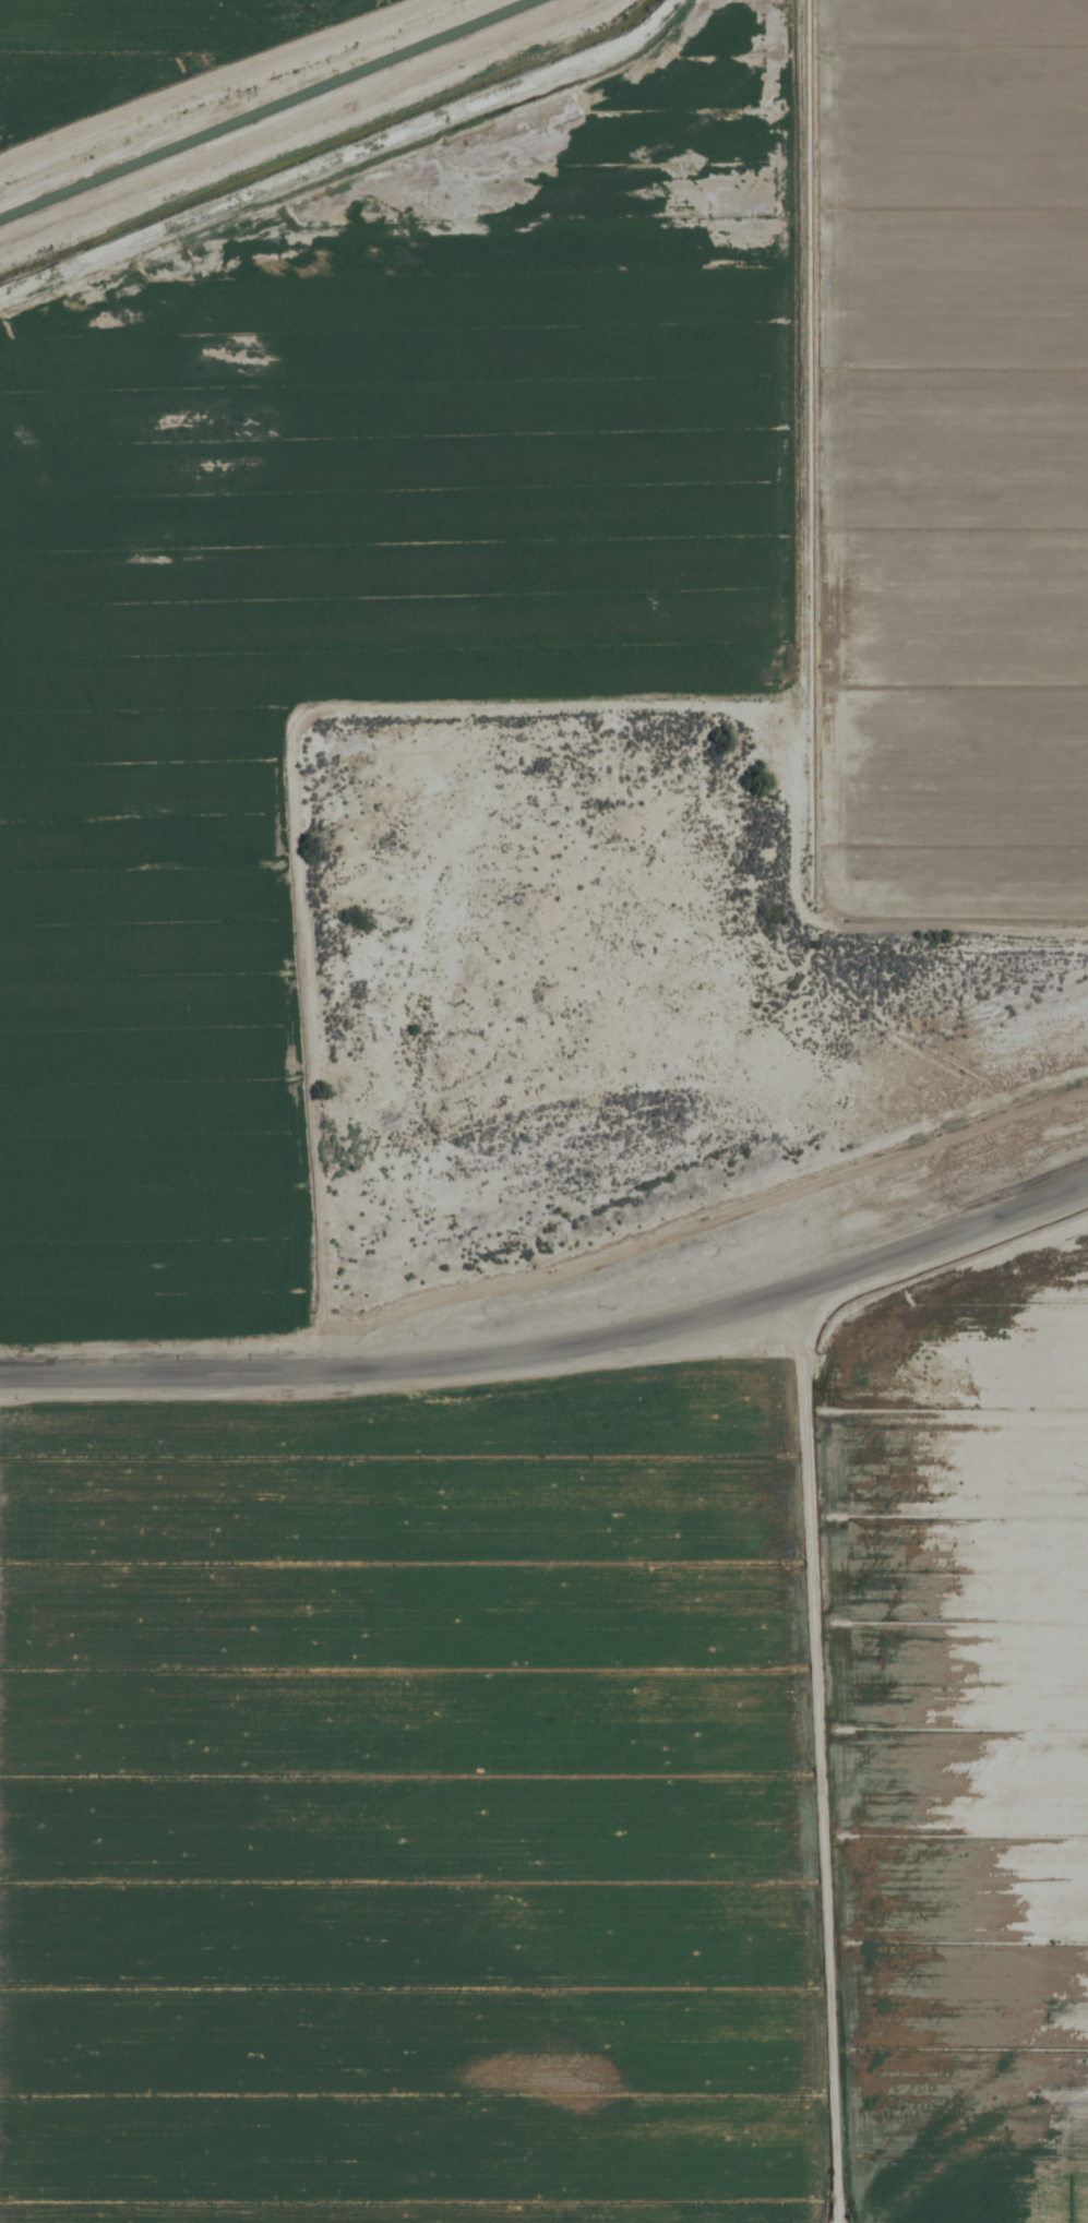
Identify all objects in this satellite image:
crop: (543, 1111)
road: (553, 1349)

